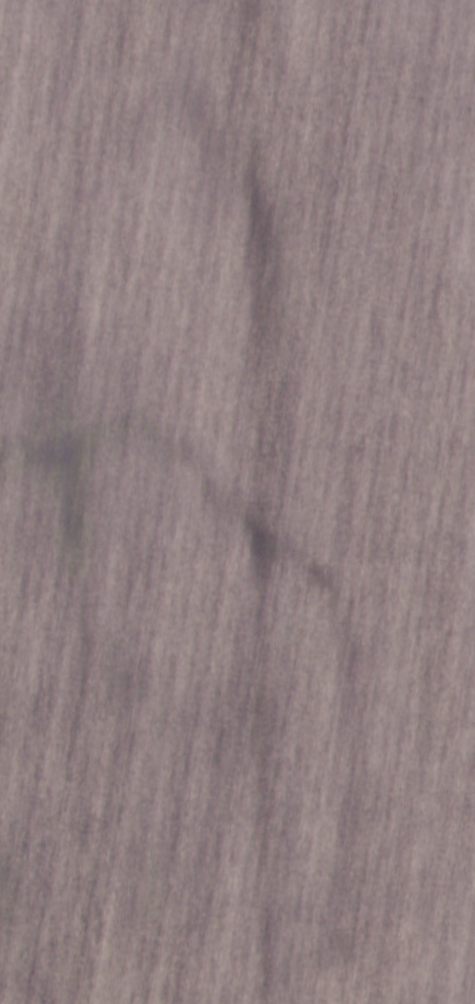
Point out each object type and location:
crop: (237, 502)

